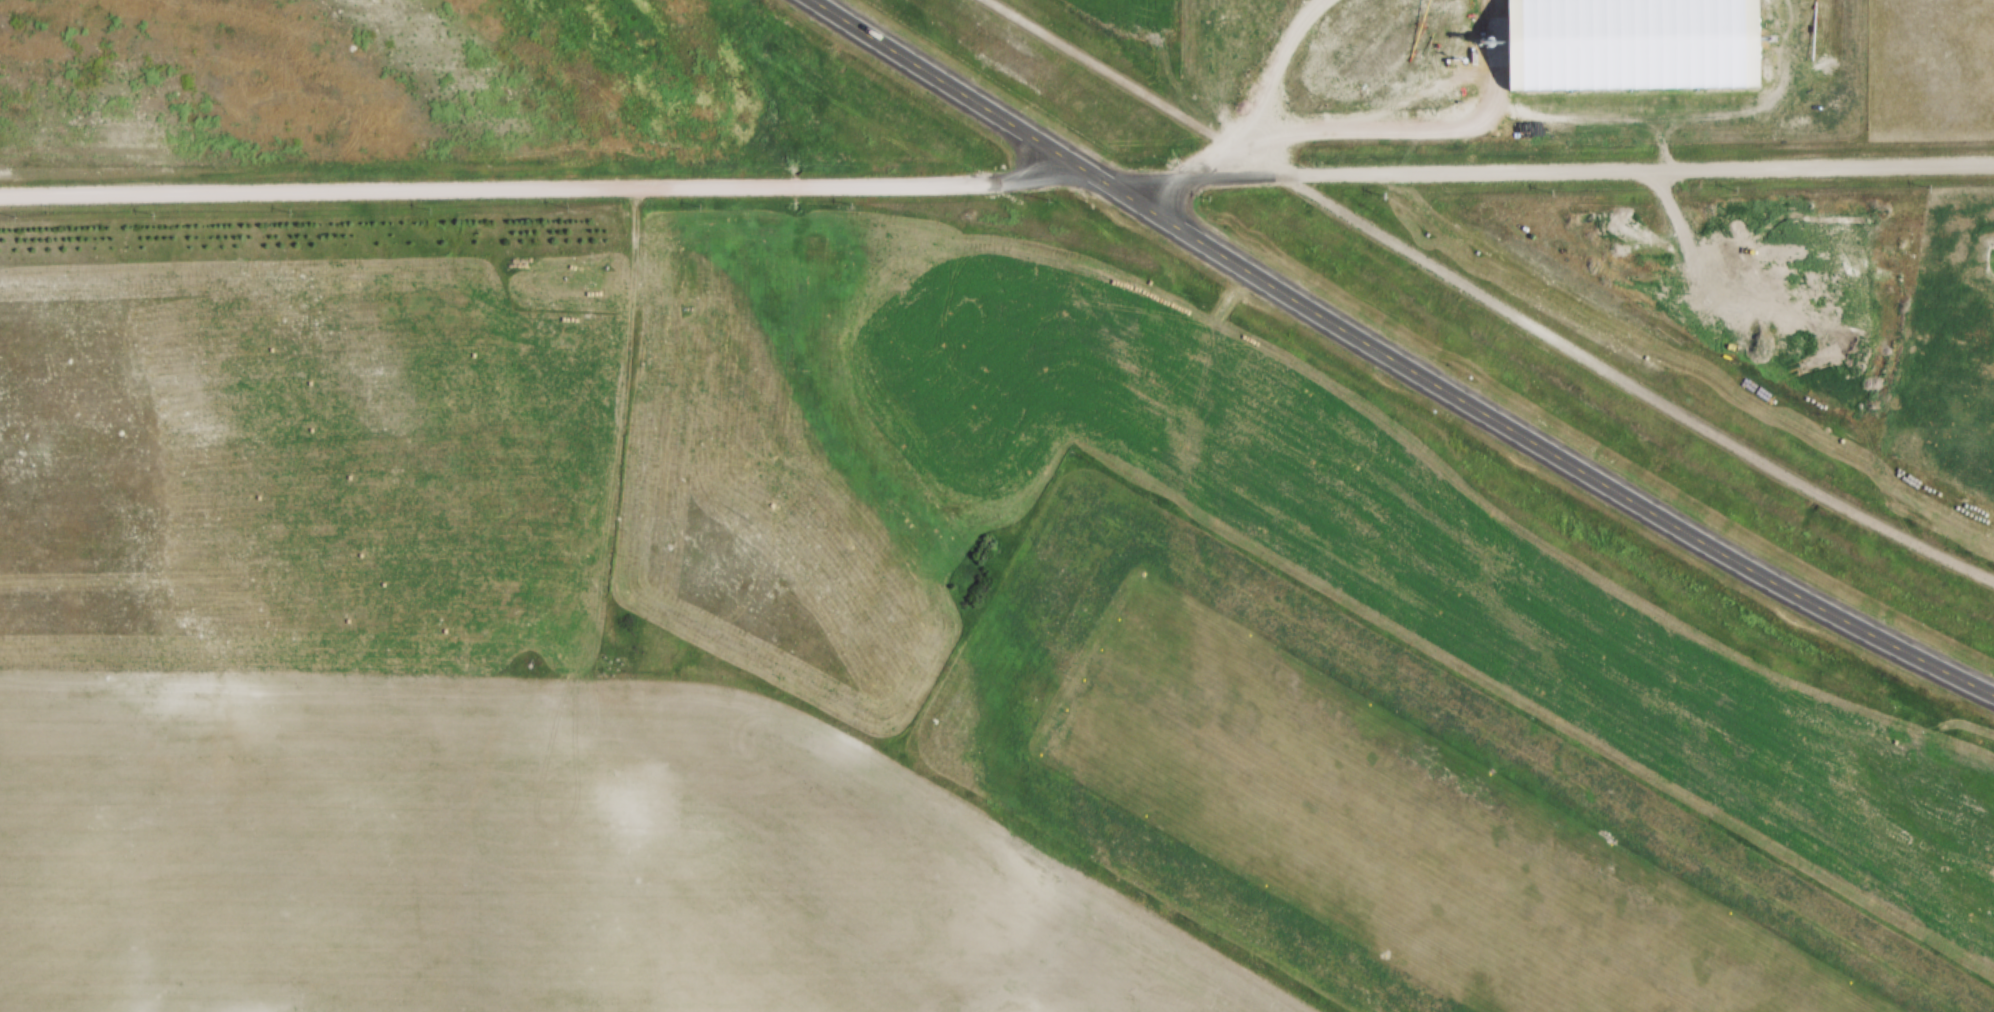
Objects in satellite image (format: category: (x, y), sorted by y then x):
building: (1628, 45)
road: (1562, 172)
road: (535, 189)
road: (1489, 298)
road: (1398, 359)
airport: (1373, 785)
airport runway: (1388, 835)

